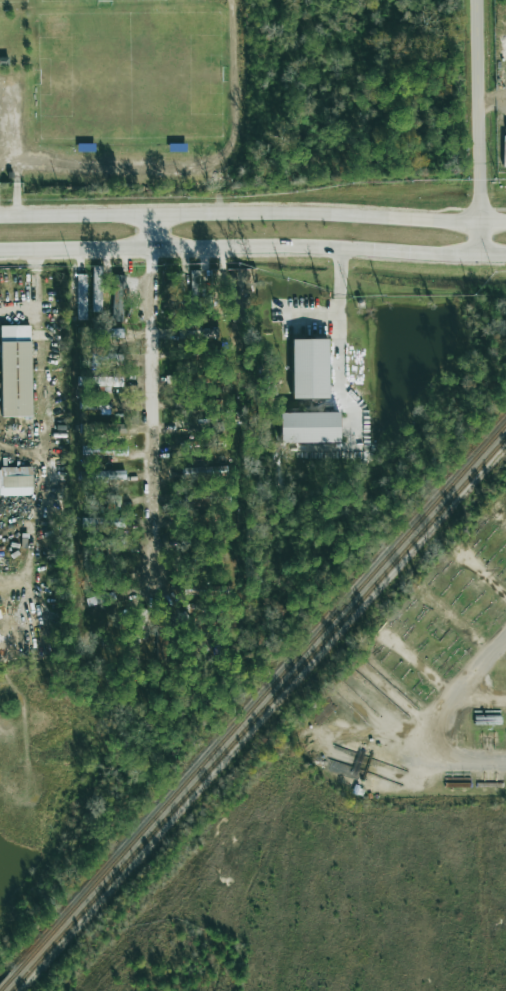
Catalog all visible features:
park: (12, 1)
park: (94, 1)
park: (127, 77)
road: (9, 127)
road: (480, 128)
road: (99, 172)
road: (17, 183)
road: (253, 210)
road: (150, 227)
road: (253, 246)
building: (96, 288)
road: (31, 291)
building: (81, 296)
building: (118, 298)
road: (312, 318)
road: (340, 335)
building: (310, 368)
building: (17, 369)
building: (104, 381)
road: (152, 410)
building: (310, 427)
building: (108, 474)
building: (16, 481)
road: (505, 637)
road: (440, 683)
railway: (253, 707)
railway: (258, 713)
road: (419, 738)

